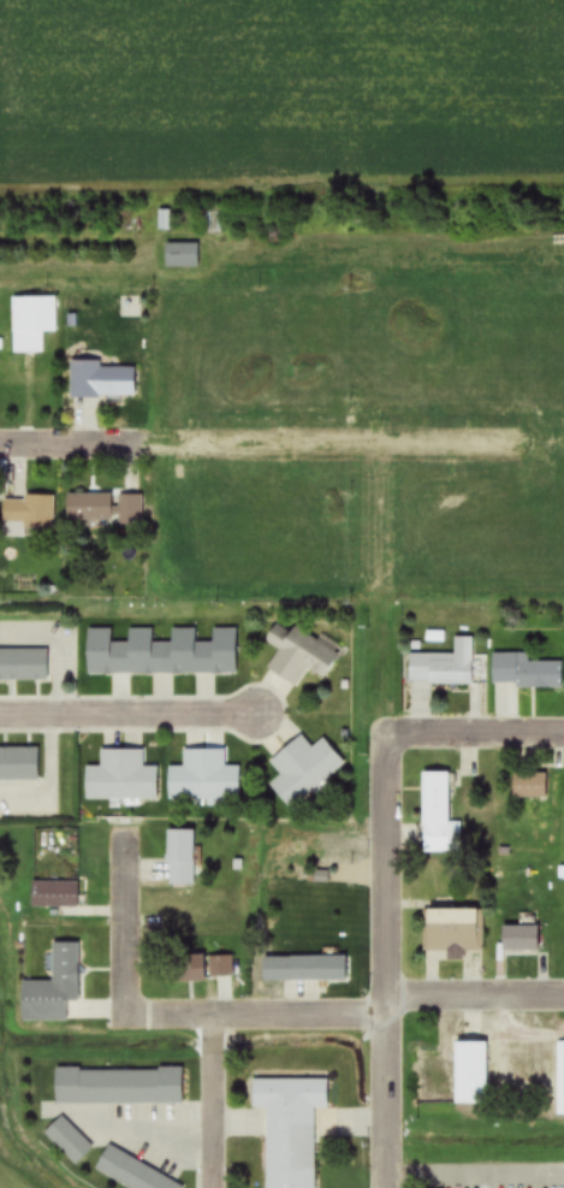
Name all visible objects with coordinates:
crop: (281, 89)
building: (213, 224)
building: (180, 256)
building: (31, 325)
building: (101, 383)
road: (70, 450)
building: (88, 508)
building: (129, 510)
building: (29, 513)
building: (162, 654)
building: (301, 654)
building: (24, 666)
building: (444, 666)
building: (523, 672)
road: (127, 714)
road: (482, 733)
building: (19, 764)
building: (304, 769)
building: (203, 776)
building: (121, 778)
building: (529, 785)
building: (438, 815)
building: (180, 858)
building: (54, 896)
building: (452, 930)
building: (520, 938)
road: (385, 954)
building: (203, 967)
building: (317, 969)
building: (54, 987)
road: (260, 1015)
building: (470, 1074)
building: (559, 1078)
building: (119, 1086)
road: (214, 1101)
building: (290, 1129)
building: (69, 1141)
building: (132, 1172)

